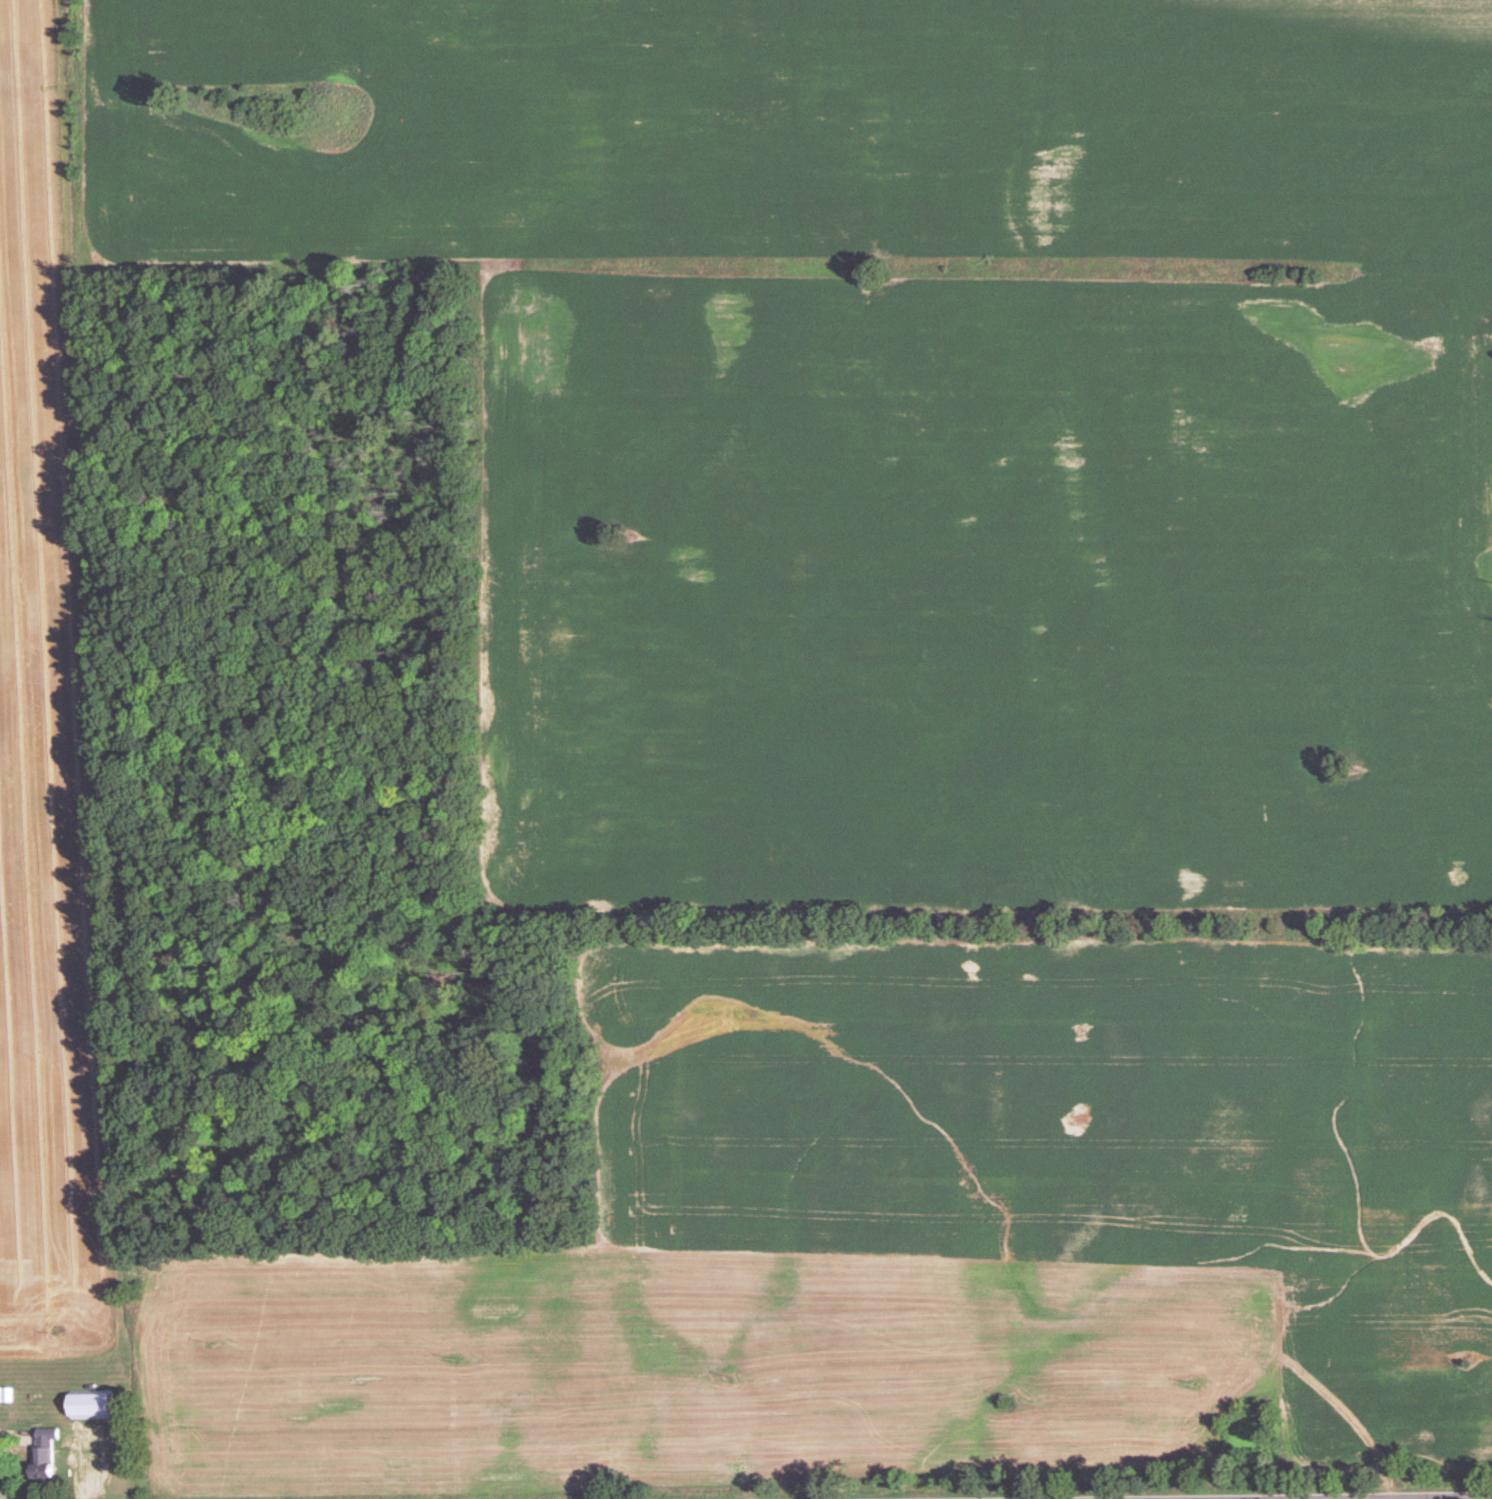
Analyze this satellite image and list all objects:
building: (4, 1395)
building: (84, 1406)
building: (40, 1454)

